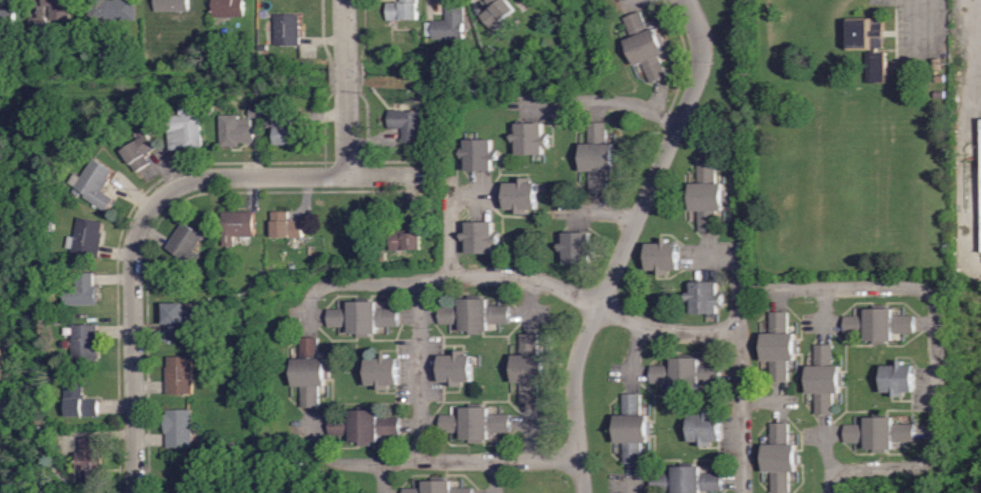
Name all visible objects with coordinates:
building: (171, 4)
building: (58, 8)
building: (229, 8)
building: (402, 8)
building: (112, 9)
building: (495, 11)
road: (939, 13)
building: (7, 17)
building: (447, 24)
building: (288, 28)
building: (868, 44)
building: (644, 45)
road: (960, 63)
road: (345, 88)
road: (598, 101)
building: (407, 124)
building: (185, 128)
building: (284, 128)
building: (236, 129)
building: (529, 137)
building: (140, 148)
building: (478, 154)
building: (596, 156)
building: (980, 162)
building: (94, 183)
building: (520, 195)
building: (706, 195)
road: (152, 207)
building: (285, 224)
building: (236, 225)
road: (450, 230)
building: (406, 234)
building: (87, 236)
building: (479, 236)
building: (185, 241)
road: (625, 242)
building: (575, 246)
building: (661, 255)
road: (735, 265)
road: (451, 276)
building: (82, 290)
building: (703, 297)
building: (473, 314)
building: (178, 315)
building: (362, 316)
building: (878, 323)
road: (665, 331)
road: (937, 336)
building: (85, 342)
building: (778, 346)
building: (454, 367)
building: (528, 367)
road: (420, 369)
building: (310, 371)
building: (382, 371)
building: (685, 373)
building: (179, 374)
building: (824, 378)
building: (898, 378)
building: (79, 401)
road: (742, 411)
building: (473, 422)
building: (363, 424)
building: (178, 427)
building: (632, 427)
building: (704, 427)
building: (879, 431)
building: (780, 456)
building: (89, 460)
road: (440, 461)
building: (686, 479)
building: (438, 487)

